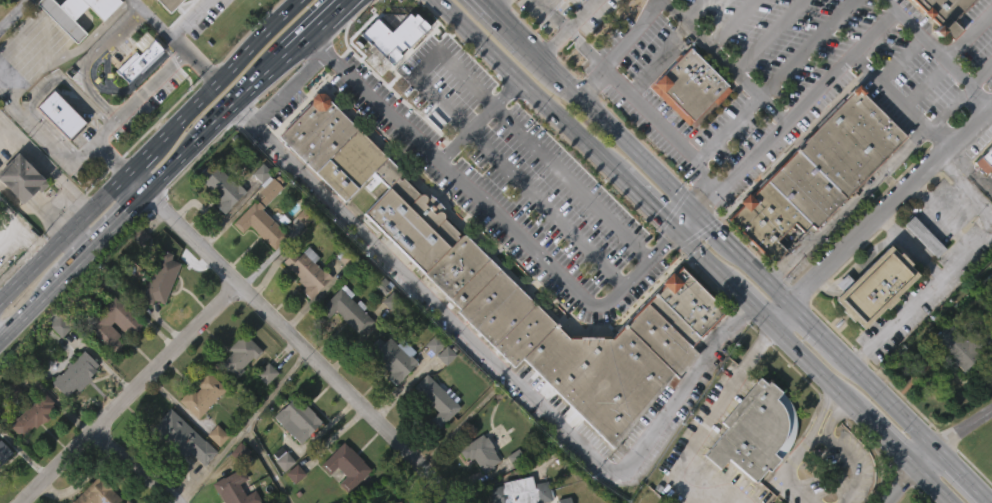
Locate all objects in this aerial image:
building: (165, 4)
road: (497, 4)
road: (492, 7)
road: (341, 8)
road: (444, 9)
road: (446, 10)
building: (76, 13)
building: (949, 13)
road: (13, 14)
road: (186, 17)
road: (317, 24)
road: (566, 26)
building: (393, 28)
road: (913, 29)
road: (520, 35)
road: (176, 40)
building: (74, 42)
road: (617, 47)
road: (69, 51)
building: (139, 54)
road: (87, 58)
road: (944, 58)
road: (722, 61)
road: (978, 68)
road: (228, 72)
road: (66, 82)
road: (288, 86)
building: (693, 86)
road: (148, 87)
building: (136, 91)
road: (448, 92)
road: (537, 93)
road: (628, 94)
road: (898, 101)
road: (795, 110)
building: (62, 114)
road: (478, 119)
building: (686, 120)
road: (103, 135)
building: (56, 148)
road: (60, 150)
road: (139, 160)
building: (987, 162)
road: (564, 165)
road: (44, 167)
building: (816, 173)
building: (22, 177)
road: (664, 178)
building: (222, 188)
road: (964, 188)
road: (144, 191)
building: (982, 192)
road: (648, 200)
road: (704, 202)
road: (889, 203)
road: (674, 208)
building: (263, 209)
building: (18, 212)
traffic signals: (697, 212)
road: (490, 213)
road: (941, 213)
road: (14, 216)
building: (369, 217)
road: (688, 221)
building: (215, 222)
road: (566, 224)
traffic signals: (679, 231)
building: (257, 236)
building: (927, 236)
road: (61, 237)
road: (687, 239)
road: (38, 240)
road: (75, 242)
road: (909, 243)
road: (14, 244)
road: (705, 258)
building: (134, 269)
building: (920, 270)
building: (305, 272)
building: (161, 278)
building: (874, 286)
building: (990, 286)
building: (518, 288)
building: (389, 292)
road: (921, 292)
road: (750, 303)
building: (303, 305)
building: (348, 309)
road: (779, 311)
building: (157, 312)
building: (991, 318)
building: (871, 320)
building: (129, 324)
road: (815, 326)
road: (289, 335)
building: (344, 344)
building: (965, 344)
building: (241, 353)
building: (396, 358)
building: (57, 359)
building: (110, 360)
road: (807, 360)
road: (498, 368)
building: (76, 374)
building: (430, 377)
building: (951, 381)
building: (236, 387)
building: (442, 388)
building: (391, 391)
road: (130, 394)
building: (200, 394)
road: (888, 398)
building: (434, 399)
building: (263, 406)
building: (72, 407)
building: (34, 414)
building: (295, 418)
road: (713, 418)
road: (963, 428)
building: (198, 429)
building: (753, 430)
road: (880, 432)
building: (432, 433)
building: (179, 440)
road: (803, 445)
building: (29, 449)
road: (841, 450)
building: (4, 452)
building: (479, 452)
building: (293, 453)
road: (925, 455)
building: (752, 462)
building: (344, 465)
road: (134, 466)
building: (214, 468)
building: (178, 470)
road: (964, 472)
road: (901, 484)
road: (932, 484)
building: (476, 486)
building: (2, 487)
building: (235, 489)
building: (522, 491)
building: (98, 493)
building: (340, 493)
building: (281, 494)
building: (126, 501)
building: (292, 501)
road: (173, 502)
building: (397, 502)

